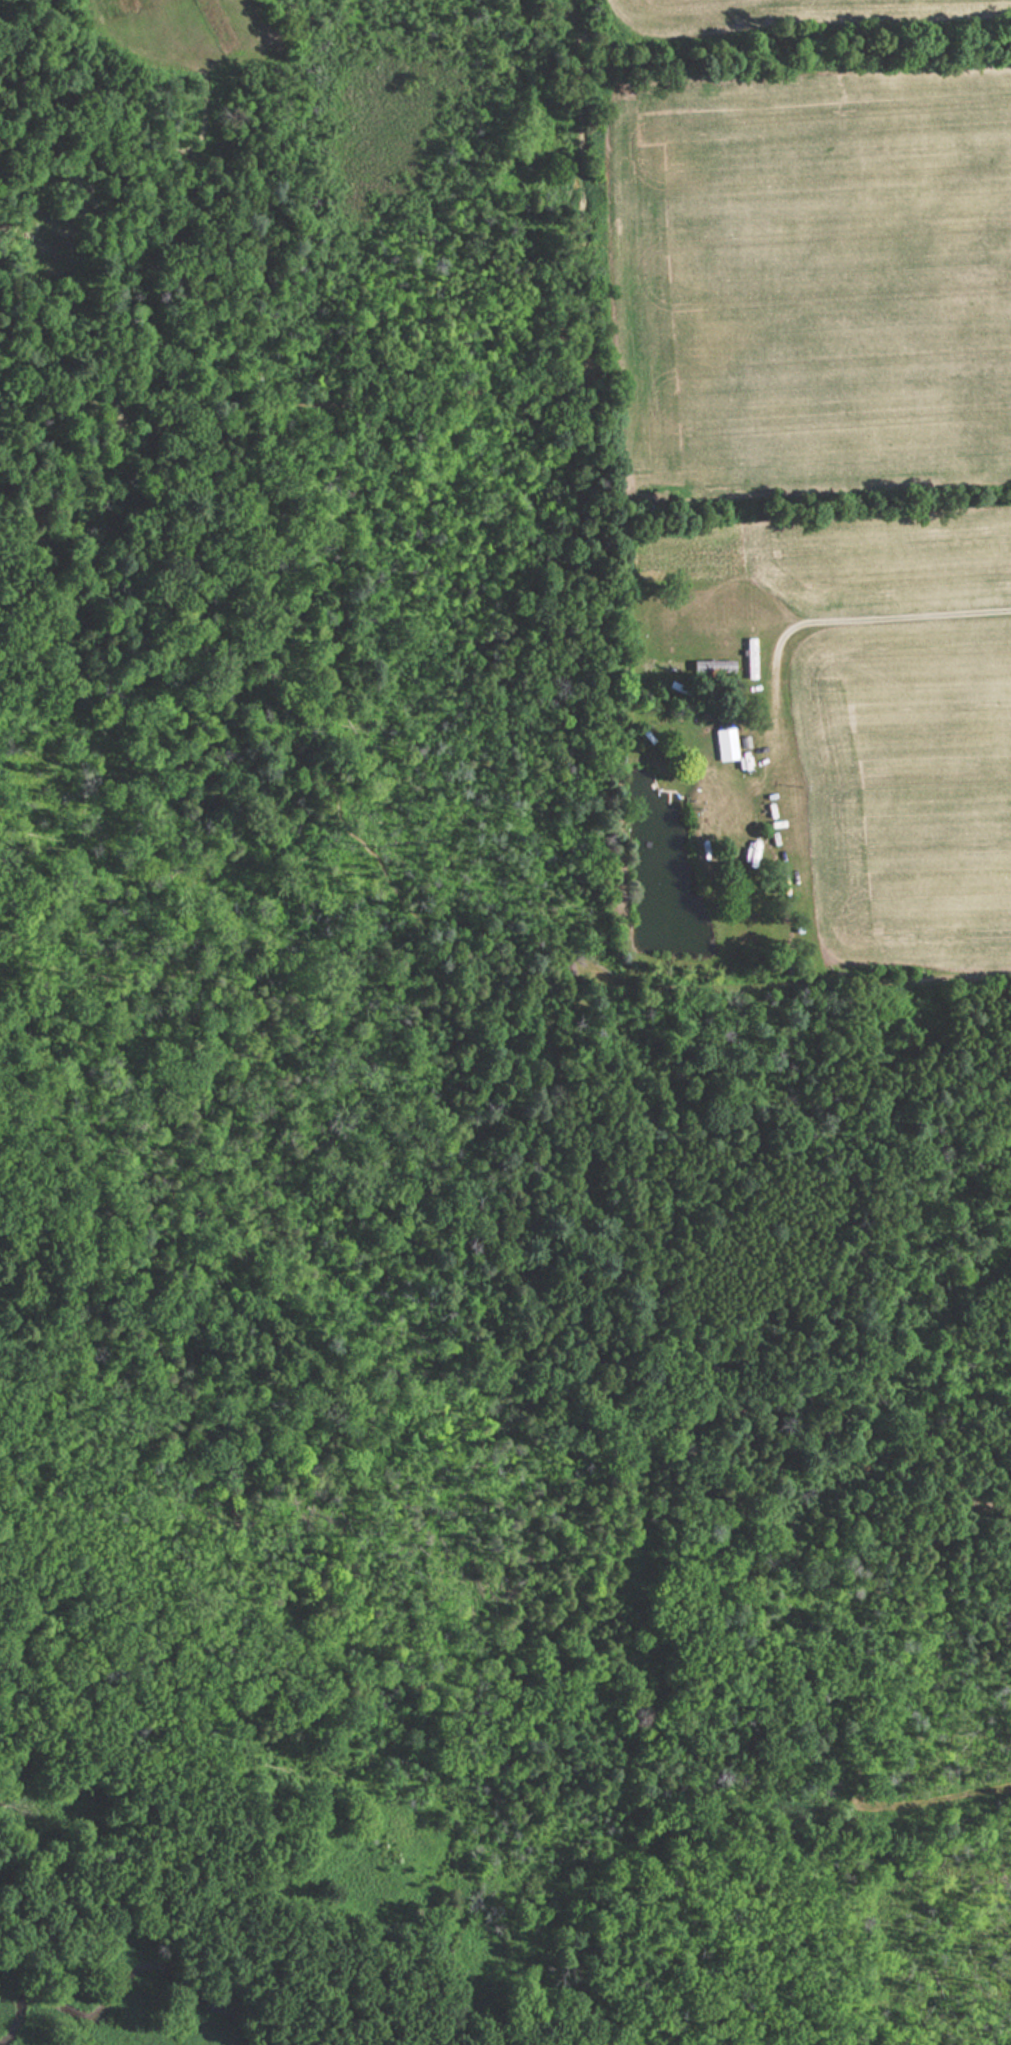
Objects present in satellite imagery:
building: (751, 658)
building: (661, 666)
building: (713, 666)
building: (726, 743)

